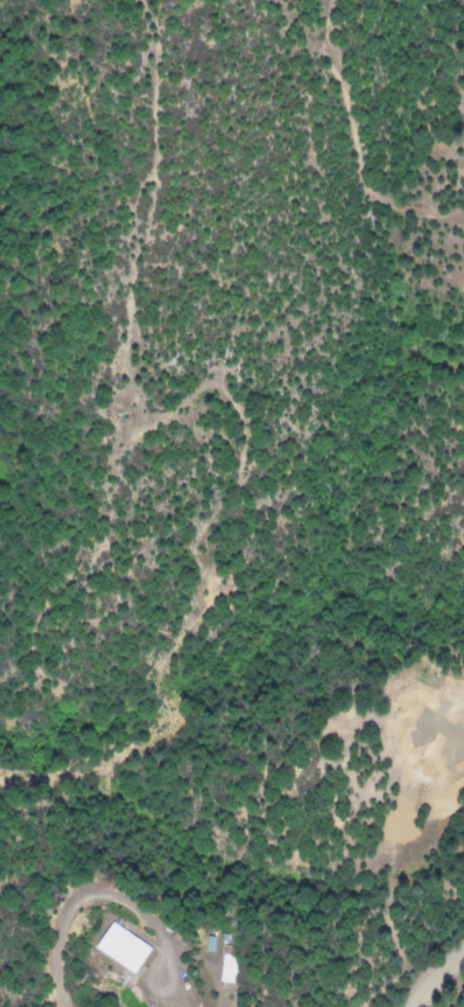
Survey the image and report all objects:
road: (75, 897)
building: (115, 946)
road: (437, 979)

